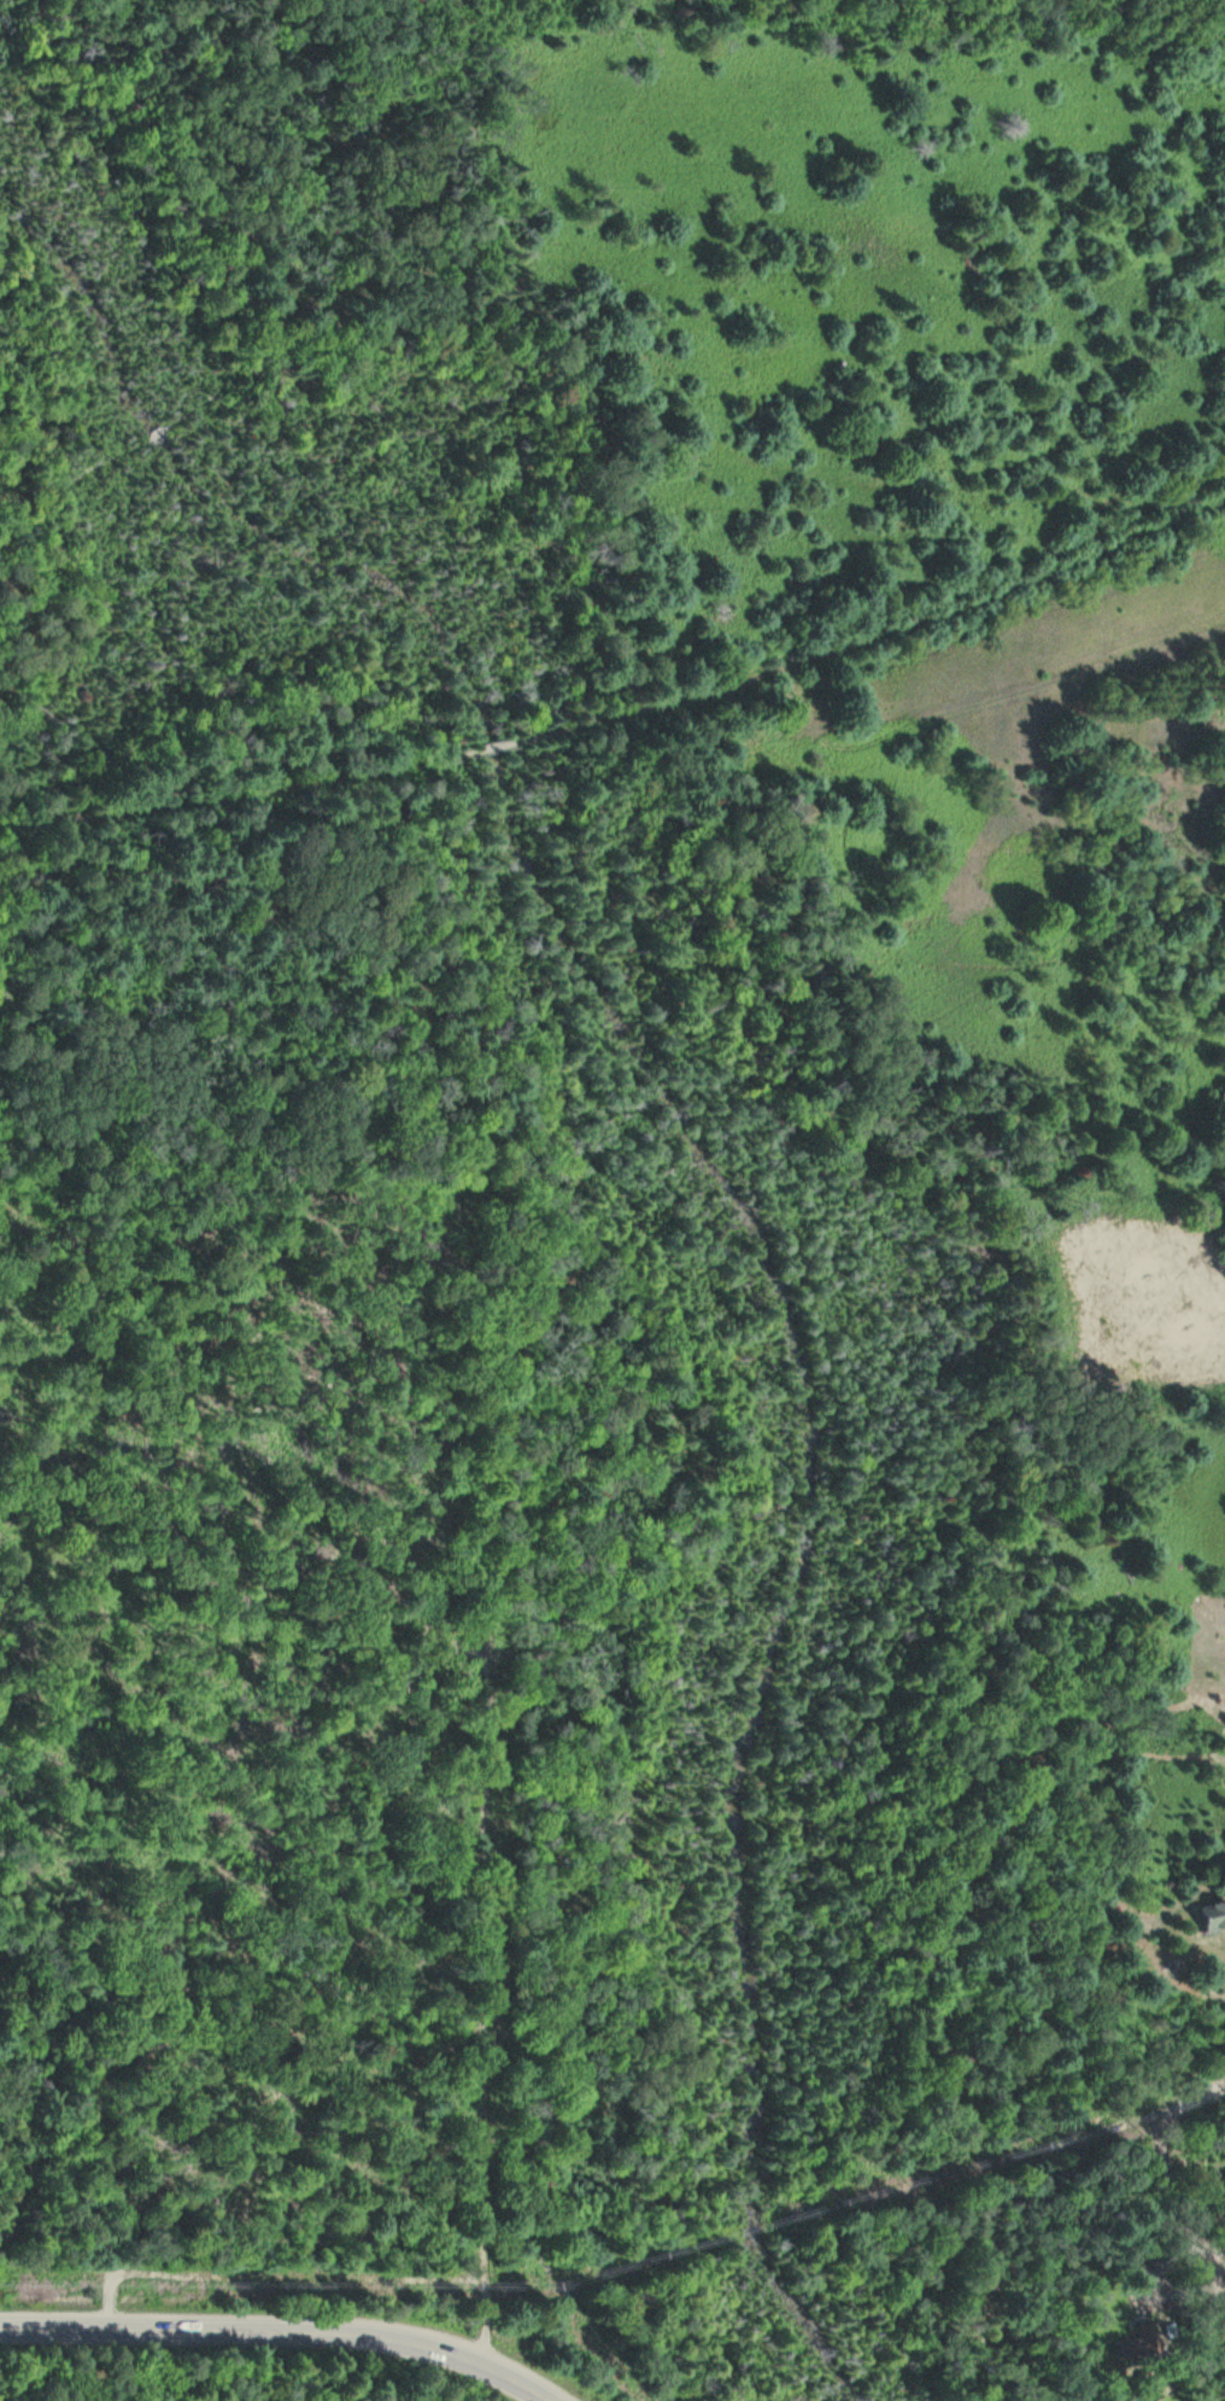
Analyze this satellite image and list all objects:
road: (238, 227)
road: (157, 432)
road: (77, 474)
road: (40, 597)
road: (854, 641)
road: (458, 758)
road: (252, 795)
road: (29, 825)
building: (1205, 1264)
building: (1214, 1916)
road: (280, 2330)

